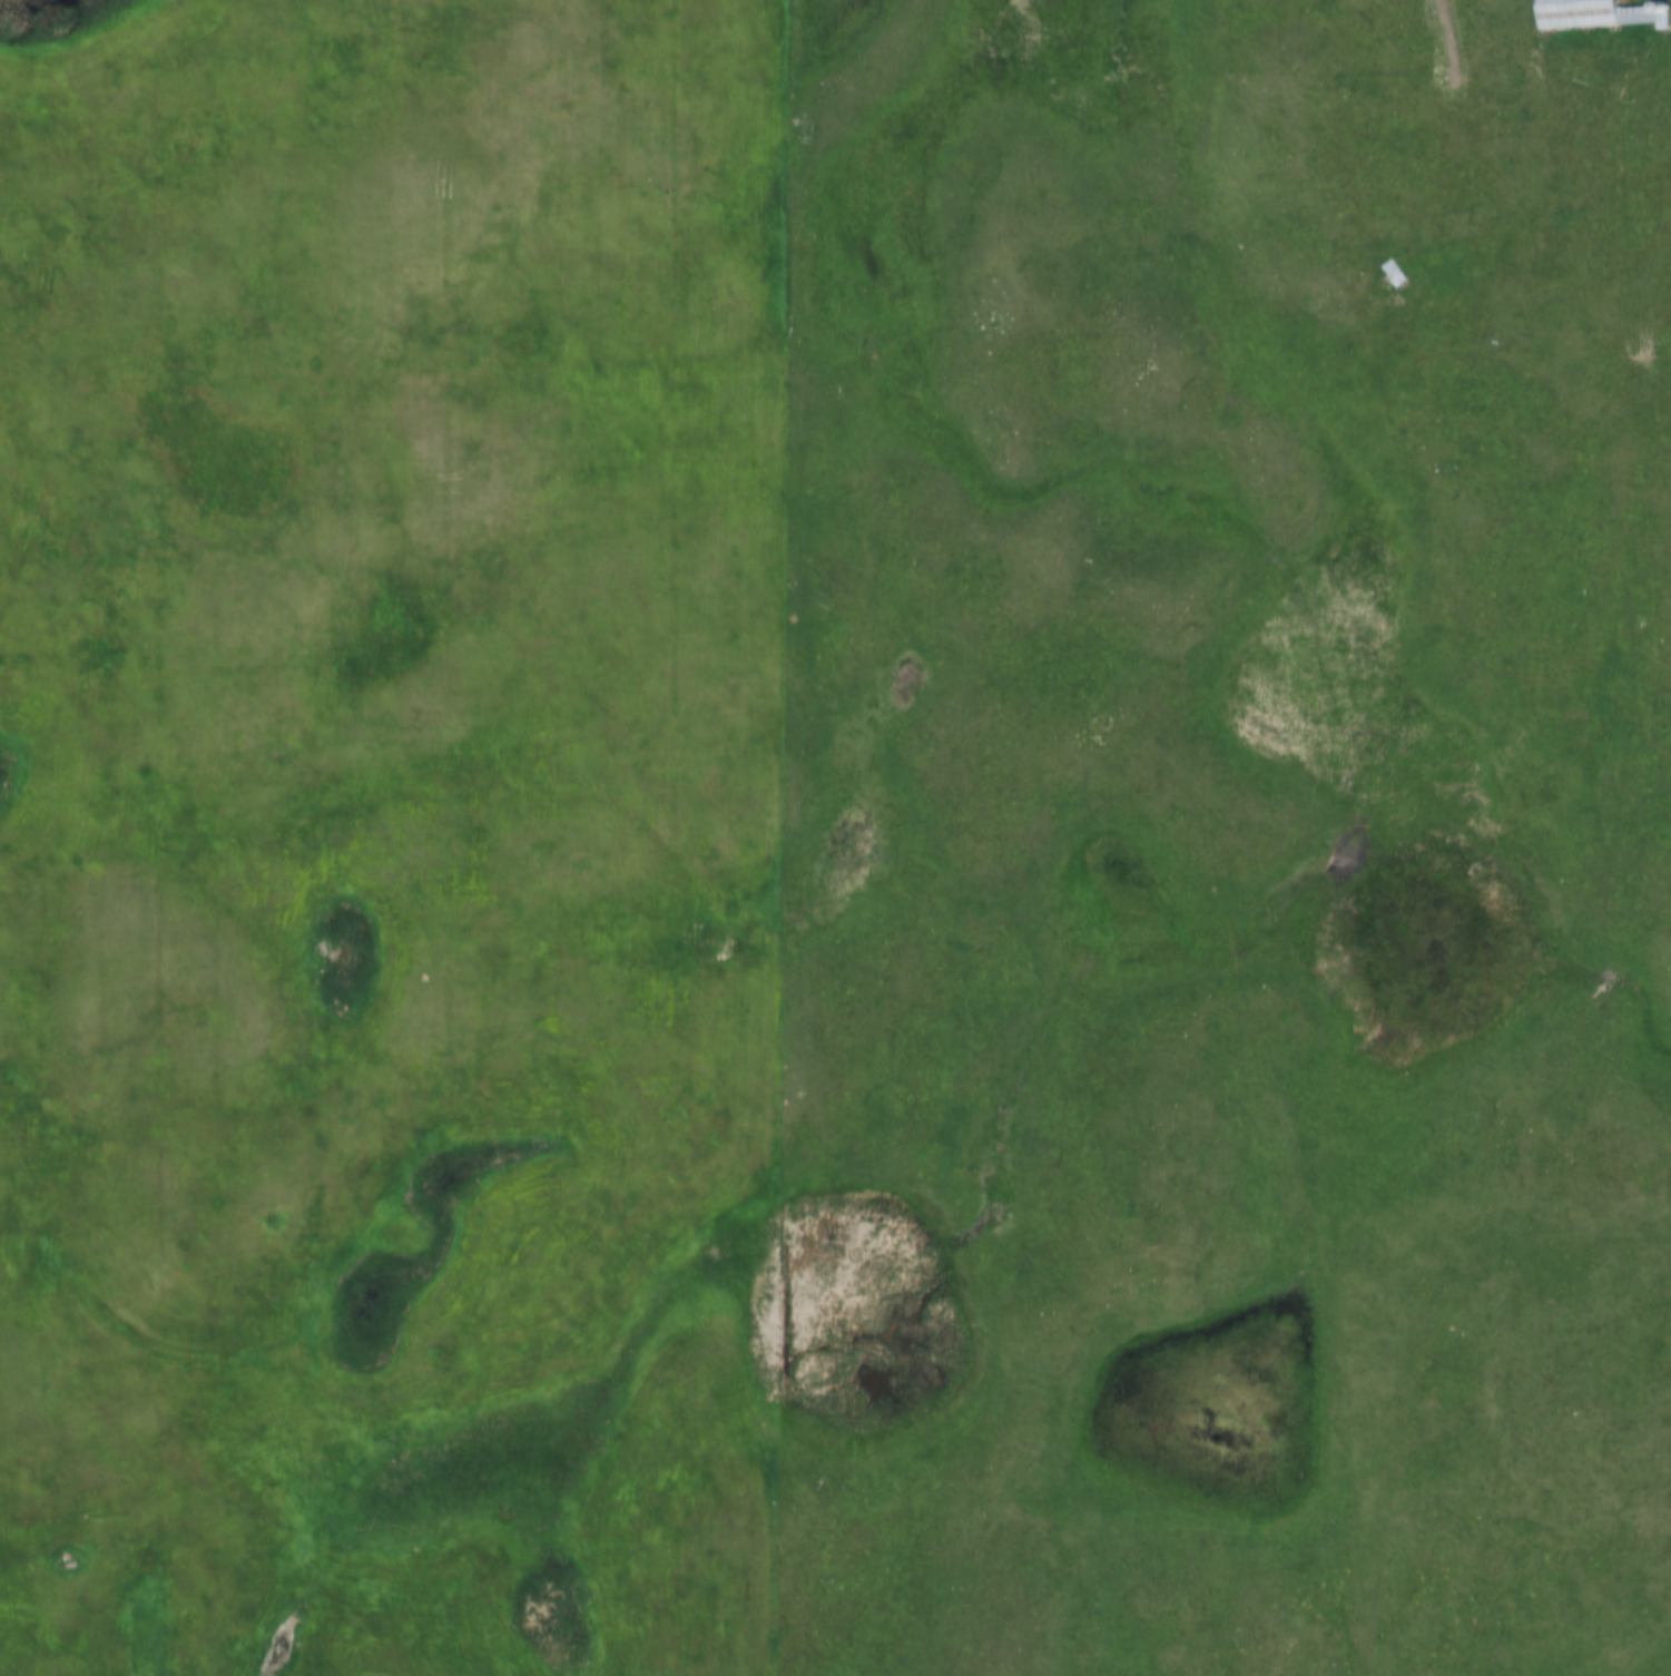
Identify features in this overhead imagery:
building: (1595, 13)

